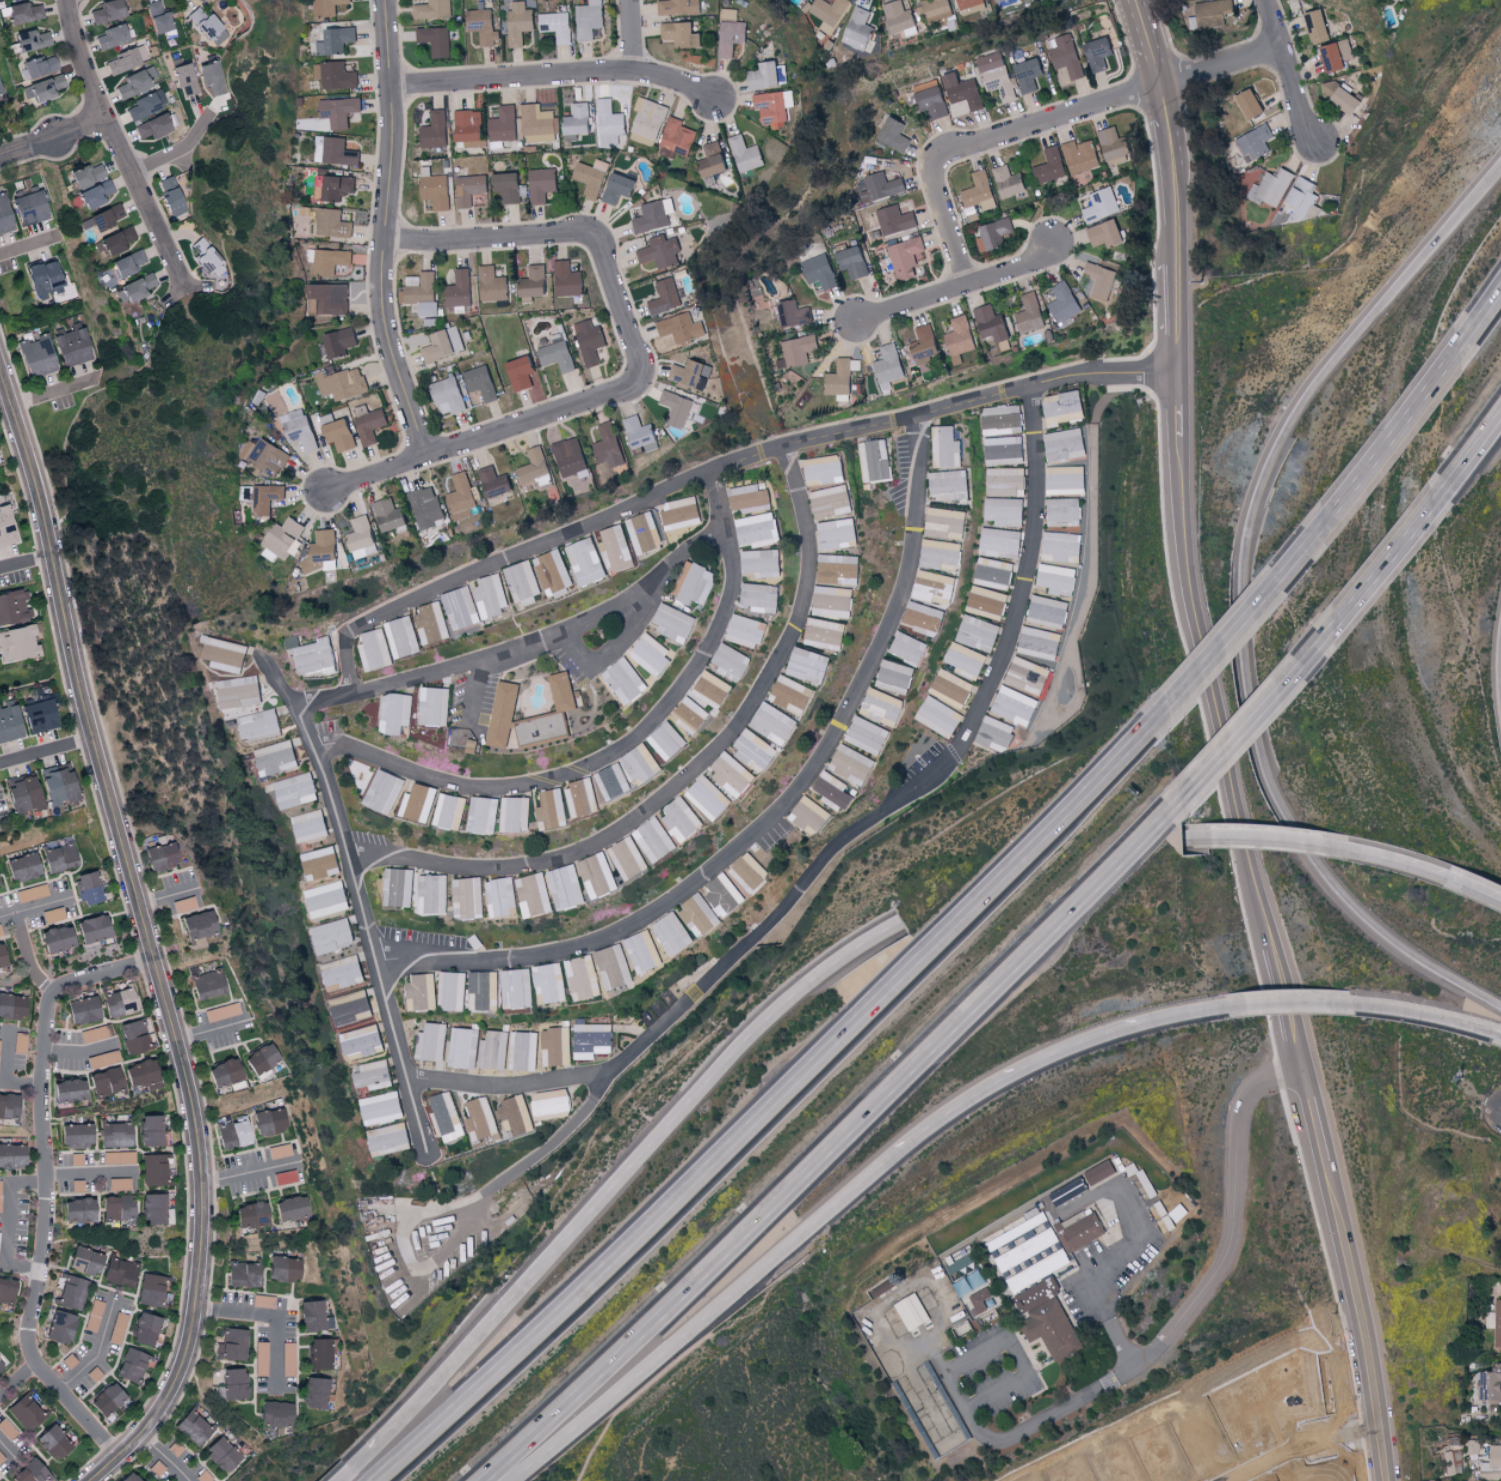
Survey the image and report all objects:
building: (1007, 2)
building: (972, 5)
building: (330, 6)
building: (680, 6)
building: (434, 8)
building: (940, 11)
building: (108, 12)
building: (1214, 12)
building: (24, 13)
building: (829, 13)
building: (590, 18)
building: (902, 18)
building: (159, 19)
building: (520, 22)
building: (484, 24)
building: (558, 25)
building: (1318, 25)
building: (208, 26)
building: (860, 28)
building: (682, 33)
road: (633, 34)
building: (732, 35)
building: (111, 37)
building: (337, 39)
building: (437, 39)
building: (31, 41)
road: (1151, 41)
building: (1099, 53)
building: (1066, 54)
building: (1337, 54)
building: (127, 60)
building: (40, 66)
road: (1289, 71)
building: (336, 74)
building: (997, 74)
building: (1029, 74)
road: (555, 75)
building: (769, 75)
building: (212, 78)
building: (185, 79)
building: (135, 83)
building: (43, 89)
building: (964, 90)
building: (1342, 95)
building: (932, 98)
road: (1167, 99)
building: (1252, 103)
building: (146, 105)
building: (776, 106)
building: (340, 110)
road: (1049, 118)
building: (579, 119)
building: (649, 120)
building: (611, 122)
building: (505, 123)
building: (540, 123)
building: (153, 127)
building: (470, 127)
building: (436, 129)
building: (895, 133)
building: (679, 135)
road: (52, 137)
road: (117, 142)
building: (1256, 142)
building: (1116, 145)
road: (1172, 147)
road: (177, 149)
building: (336, 150)
building: (747, 153)
building: (1081, 155)
building: (714, 159)
building: (1051, 165)
building: (86, 175)
building: (592, 176)
building: (1010, 181)
building: (543, 183)
building: (334, 186)
building: (509, 186)
building: (881, 186)
building: (619, 187)
building: (1273, 187)
building: (436, 188)
building: (471, 188)
building: (94, 195)
building: (171, 197)
building: (1303, 197)
building: (1102, 204)
building: (29, 206)
building: (4, 215)
building: (652, 216)
building: (105, 218)
building: (896, 219)
road: (1176, 220)
building: (334, 222)
road: (384, 230)
road: (545, 233)
building: (1107, 233)
building: (995, 234)
building: (116, 242)
road: (28, 247)
building: (662, 251)
building: (906, 256)
building: (208, 259)
building: (329, 259)
building: (854, 262)
building: (127, 264)
building: (820, 271)
building: (44, 279)
building: (569, 279)
building: (1102, 279)
road: (179, 282)
building: (534, 283)
building: (493, 284)
road: (957, 286)
building: (134, 289)
building: (421, 290)
building: (460, 290)
building: (666, 296)
building: (331, 297)
building: (1065, 302)
road: (1489, 308)
building: (1031, 312)
building: (794, 313)
road: (1175, 316)
building: (992, 322)
building: (682, 327)
building: (961, 335)
building: (341, 341)
building: (590, 341)
building: (926, 343)
building: (444, 344)
building: (72, 345)
building: (800, 349)
building: (558, 352)
building: (37, 357)
building: (890, 367)
building: (522, 372)
building: (692, 373)
building: (482, 381)
building: (343, 382)
road: (53, 393)
road: (3, 395)
building: (449, 395)
road: (1178, 402)
building: (1065, 406)
building: (678, 407)
building: (1003, 418)
building: (370, 422)
building: (300, 428)
road: (496, 430)
building: (339, 431)
building: (641, 433)
building: (1066, 443)
building: (610, 444)
building: (947, 446)
building: (1004, 449)
road: (1475, 450)
building: (266, 456)
building: (572, 456)
building: (876, 459)
building: (535, 464)
road: (720, 466)
building: (825, 468)
building: (1066, 478)
building: (495, 480)
building: (1006, 480)
building: (951, 483)
building: (463, 495)
building: (267, 497)
building: (751, 497)
building: (833, 500)
building: (428, 505)
building: (1005, 510)
building: (1064, 510)
building: (682, 511)
building: (390, 513)
building: (947, 522)
building: (6, 527)
building: (759, 528)
road: (1322, 528)
building: (646, 531)
building: (839, 532)
building: (285, 536)
building: (363, 536)
building: (1001, 541)
building: (1062, 544)
building: (618, 547)
building: (323, 550)
building: (942, 553)
building: (587, 560)
building: (763, 561)
road: (24, 562)
building: (840, 567)
building: (555, 571)
building: (993, 574)
building: (1058, 578)
building: (525, 581)
building: (696, 581)
building: (936, 585)
road: (1190, 586)
building: (493, 593)
building: (762, 596)
building: (834, 600)
road: (1242, 600)
building: (988, 601)
building: (14, 606)
building: (462, 606)
building: (1049, 610)
building: (926, 617)
building: (675, 621)
building: (432, 622)
building: (748, 630)
building: (827, 631)
building: (978, 632)
building: (403, 635)
building: (17, 642)
building: (1041, 644)
road: (611, 646)
building: (910, 646)
building: (375, 648)
road: (523, 648)
road: (1314, 649)
building: (227, 653)
building: (652, 655)
building: (966, 659)
building: (733, 661)
building: (810, 664)
building: (1028, 674)
building: (897, 675)
building: (626, 679)
building: (715, 686)
building: (952, 687)
building: (240, 690)
building: (564, 690)
road: (476, 693)
building: (793, 693)
building: (1016, 704)
building: (435, 705)
building: (884, 705)
building: (396, 711)
building: (505, 712)
building: (39, 714)
building: (939, 715)
building: (9, 721)
building: (775, 722)
building: (260, 723)
building: (543, 727)
building: (996, 732)
building: (869, 734)
building: (668, 739)
building: (473, 744)
road: (618, 746)
building: (757, 748)
road: (45, 750)
building: (277, 757)
building: (641, 762)
building: (854, 763)
building: (734, 773)
road: (696, 779)
building: (614, 780)
building: (59, 785)
building: (297, 789)
building: (835, 789)
building: (385, 790)
building: (23, 793)
building: (583, 796)
building: (710, 796)
building: (420, 801)
building: (553, 808)
building: (451, 811)
building: (516, 811)
building: (485, 813)
building: (811, 814)
road: (772, 816)
building: (683, 817)
building: (311, 824)
building: (656, 838)
road: (1192, 838)
road: (1263, 838)
road: (1246, 839)
road: (836, 840)
road: (1356, 852)
building: (162, 856)
building: (60, 857)
building: (630, 857)
building: (320, 861)
building: (23, 867)
building: (751, 871)
building: (600, 873)
road: (1445, 875)
building: (399, 885)
building: (568, 885)
building: (89, 887)
road: (357, 892)
building: (434, 892)
building: (726, 892)
building: (536, 893)
road: (1500, 894)
building: (503, 895)
road: (166, 896)
building: (469, 896)
building: (328, 898)
building: (184, 904)
road: (36, 907)
building: (701, 914)
building: (93, 928)
building: (199, 928)
building: (674, 932)
building: (332, 934)
building: (57, 938)
road: (145, 940)
building: (641, 951)
building: (2, 957)
road: (26, 957)
building: (614, 966)
building: (342, 972)
building: (579, 977)
building: (550, 981)
building: (208, 984)
building: (517, 987)
building: (483, 988)
building: (453, 990)
building: (422, 991)
building: (119, 1002)
road: (1303, 1002)
building: (350, 1005)
building: (12, 1006)
building: (83, 1010)
road: (1194, 1010)
road: (1288, 1010)
road: (1430, 1011)
building: (222, 1012)
road: (211, 1031)
building: (96, 1033)
road: (1500, 1033)
building: (133, 1037)
building: (593, 1039)
building: (362, 1040)
building: (431, 1041)
building: (19, 1043)
building: (556, 1045)
building: (464, 1046)
building: (494, 1049)
building: (524, 1049)
road: (78, 1054)
building: (111, 1057)
building: (262, 1058)
road: (3, 1073)
building: (224, 1073)
building: (375, 1074)
building: (142, 1075)
power tower: (1461, 1079)
building: (106, 1082)
building: (69, 1090)
building: (552, 1103)
building: (9, 1106)
building: (383, 1107)
road: (768, 1108)
building: (516, 1114)
building: (446, 1115)
building: (481, 1118)
road: (1313, 1118)
building: (269, 1122)
building: (151, 1131)
building: (234, 1133)
building: (77, 1135)
building: (115, 1135)
building: (390, 1137)
road: (835, 1146)
building: (279, 1151)
building: (12, 1156)
building: (118, 1158)
building: (76, 1159)
building: (1100, 1170)
road: (251, 1173)
road: (91, 1175)
building: (284, 1177)
building: (119, 1184)
building: (77, 1186)
road: (45, 1188)
road: (614, 1190)
building: (1069, 1190)
building: (0, 1194)
road: (454, 1204)
building: (118, 1207)
building: (291, 1208)
building: (153, 1209)
building: (79, 1210)
building: (1179, 1211)
building: (252, 1215)
building: (1035, 1215)
road: (3, 1222)
building: (1081, 1228)
road: (810, 1229)
road: (1130, 1246)
building: (1027, 1248)
building: (86, 1261)
building: (967, 1261)
building: (284, 1269)
building: (1038, 1269)
building: (120, 1272)
building: (244, 1274)
road: (1213, 1281)
building: (151, 1290)
building: (7, 1291)
building: (71, 1292)
building: (983, 1300)
building: (263, 1301)
building: (913, 1311)
building: (94, 1315)
road: (272, 1316)
building: (314, 1317)
building: (1049, 1318)
building: (1495, 1320)
road: (1355, 1321)
building: (60, 1327)
building: (963, 1327)
building: (145, 1329)
building: (232, 1344)
road: (97, 1350)
building: (321, 1353)
road: (976, 1353)
building: (261, 1359)
building: (287, 1359)
building: (132, 1365)
building: (0, 1366)
road: (17, 1381)
building: (234, 1383)
building: (1491, 1384)
building: (315, 1393)
building: (107, 1400)
building: (25, 1412)
building: (276, 1414)
building: (193, 1428)
building: (7, 1430)
building: (53, 1442)
road: (1300, 1446)
building: (1473, 1446)
road: (7, 1451)
building: (222, 1454)
road: (165, 1456)
building: (1, 1458)
building: (1454, 1461)
building: (1492, 1464)
building: (31, 1472)
building: (129, 1477)
building: (203, 1477)

